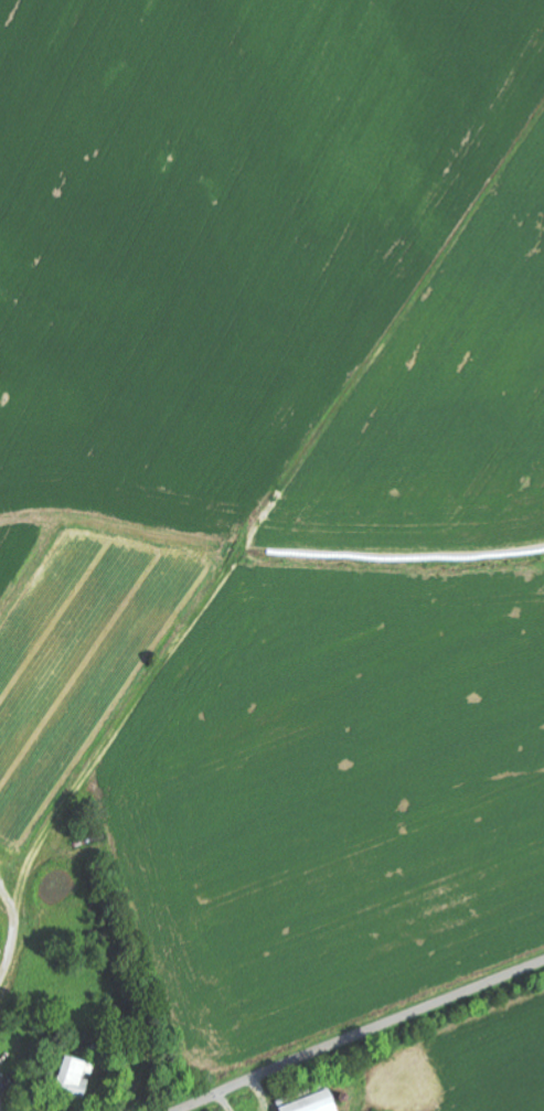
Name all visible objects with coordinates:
road: (360, 1034)
building: (73, 1076)
building: (316, 1102)

